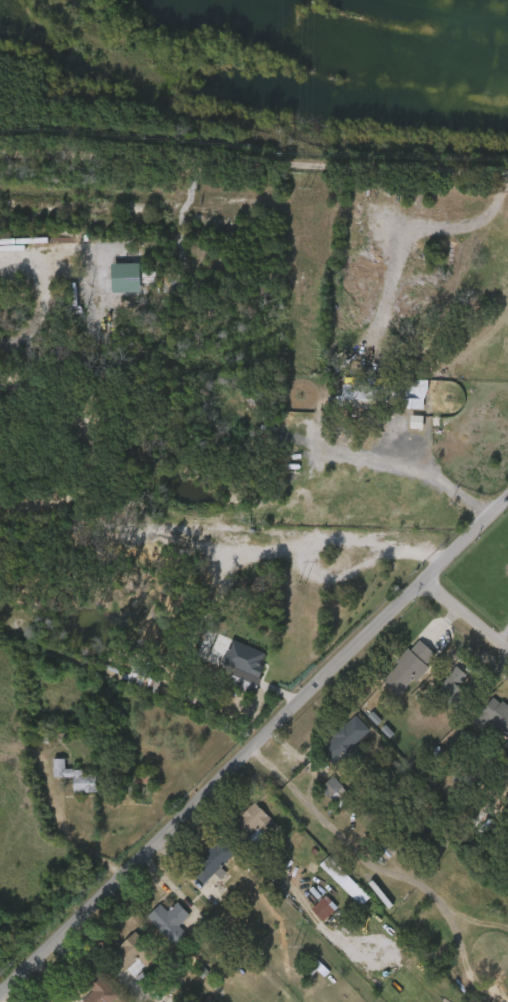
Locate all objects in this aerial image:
road: (254, 159)
building: (112, 282)
building: (370, 399)
building: (403, 426)
road: (411, 479)
road: (468, 615)
building: (231, 663)
building: (411, 666)
building: (131, 683)
building: (454, 687)
building: (437, 693)
building: (498, 713)
road: (255, 742)
building: (347, 742)
building: (78, 777)
building: (63, 782)
building: (318, 792)
building: (257, 822)
building: (239, 824)
road: (65, 833)
building: (215, 861)
building: (197, 866)
building: (345, 880)
building: (330, 885)
building: (325, 907)
building: (310, 912)
building: (173, 921)
building: (157, 926)
building: (132, 955)
building: (100, 989)
building: (88, 993)

